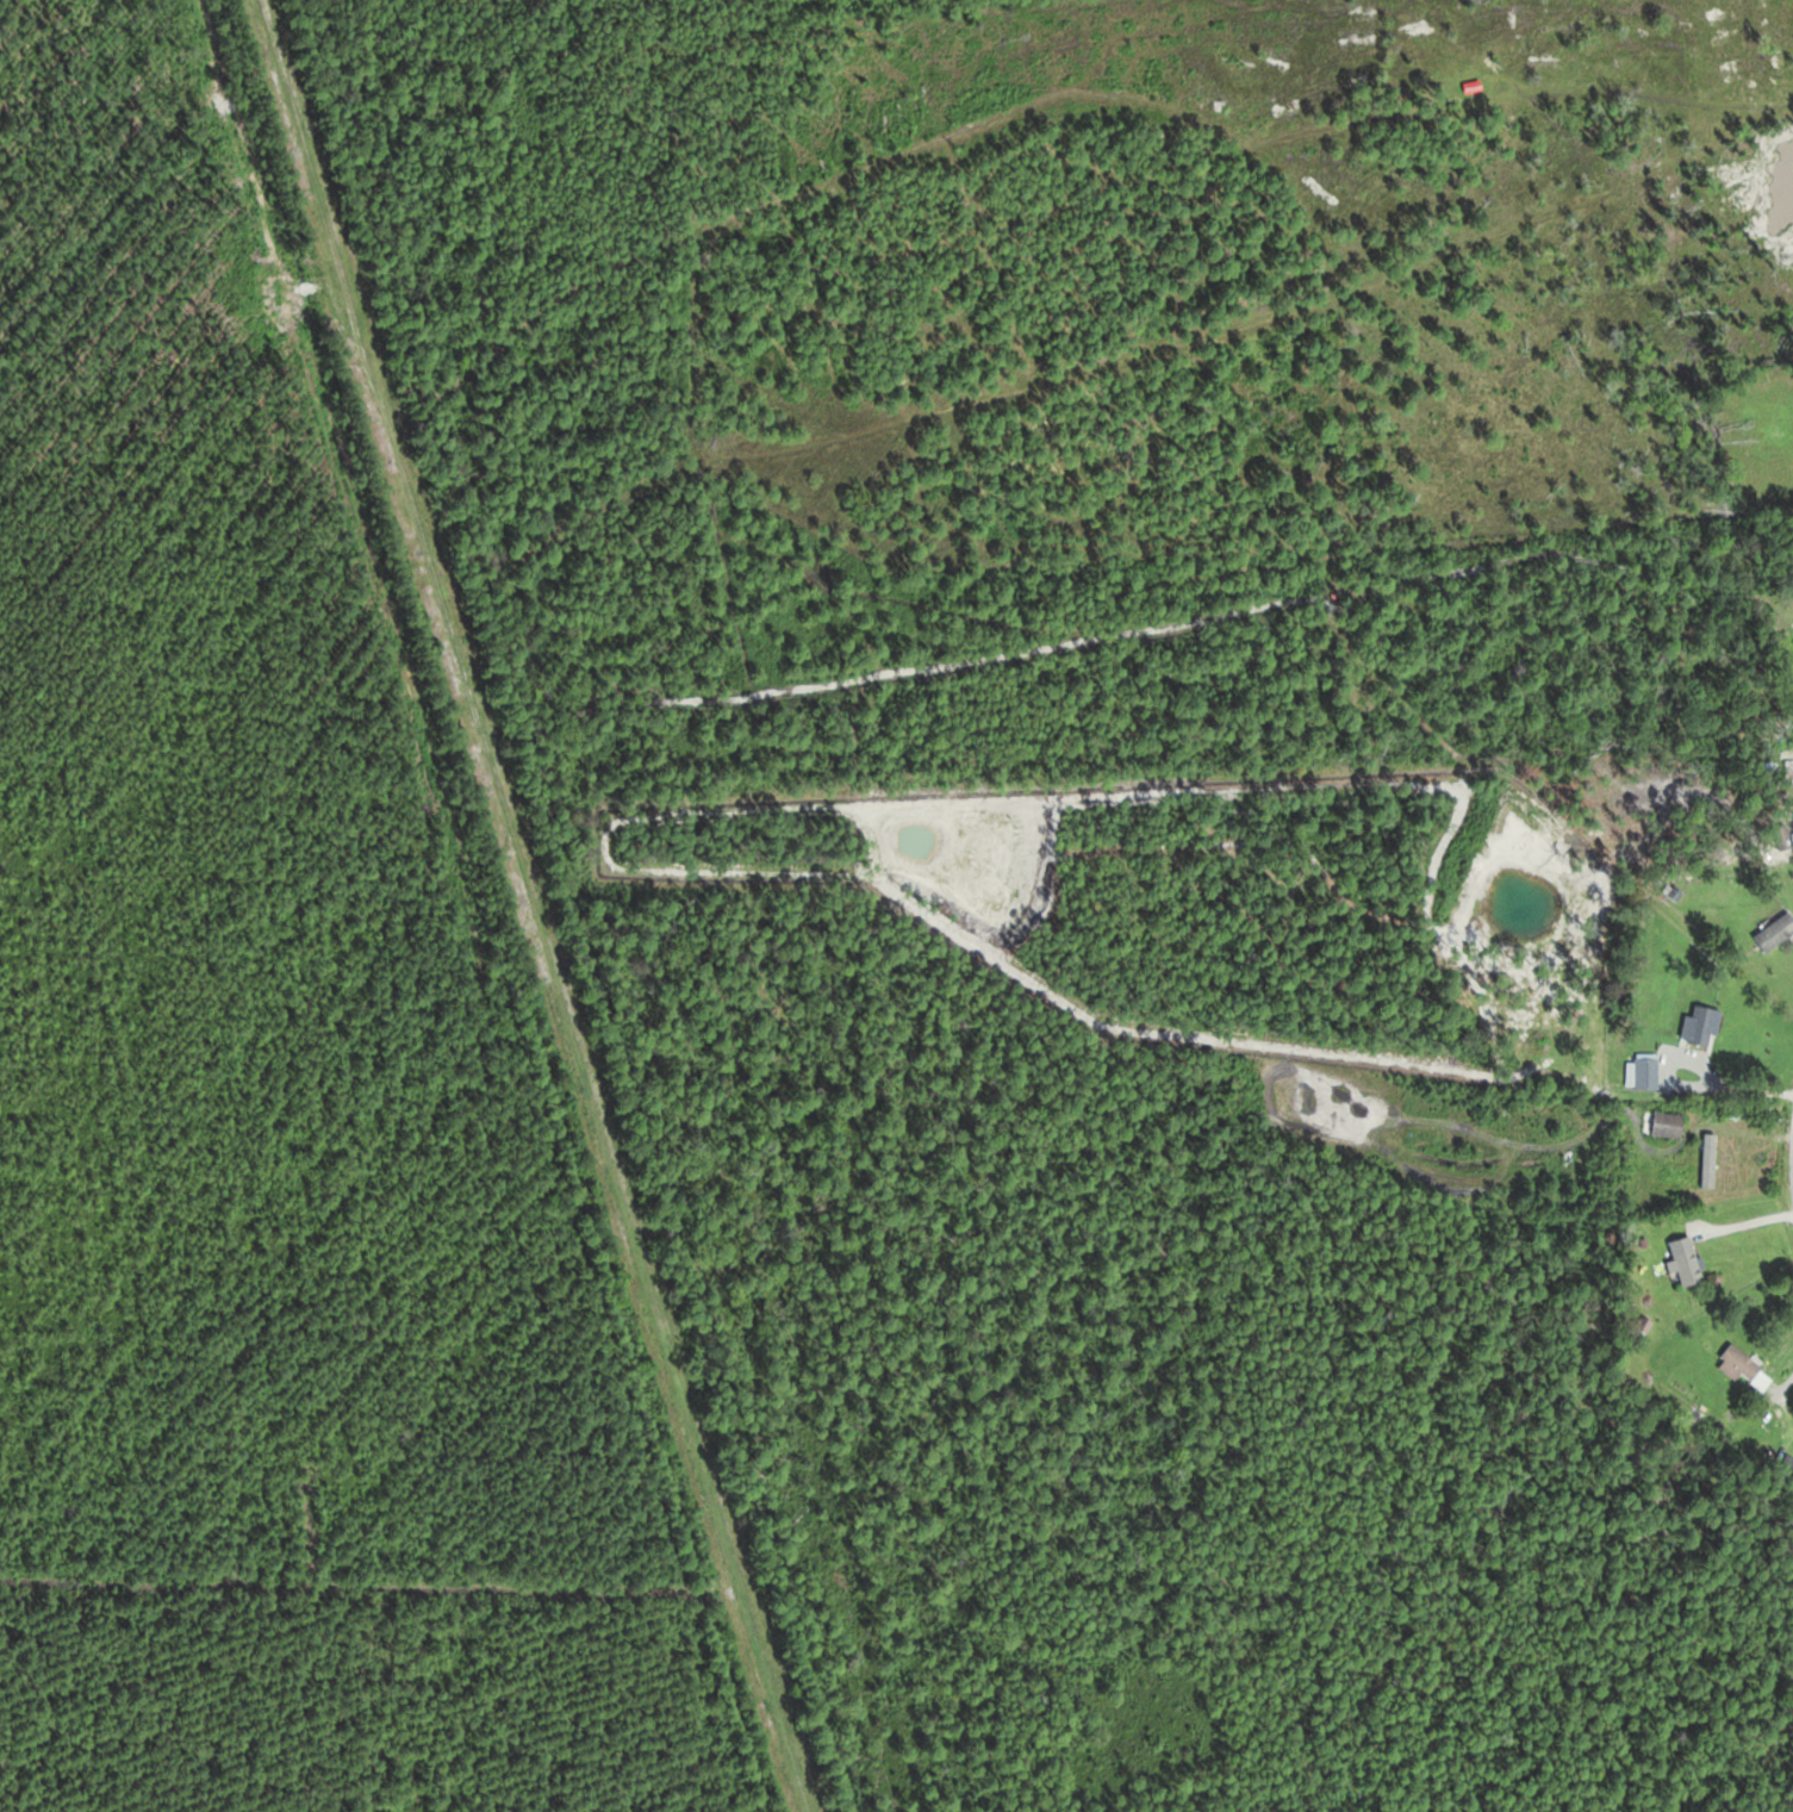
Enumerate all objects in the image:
building: (1650, 1071)
building: (1668, 1123)
building: (1693, 1266)
building: (1751, 1365)
road: (1758, 1595)

